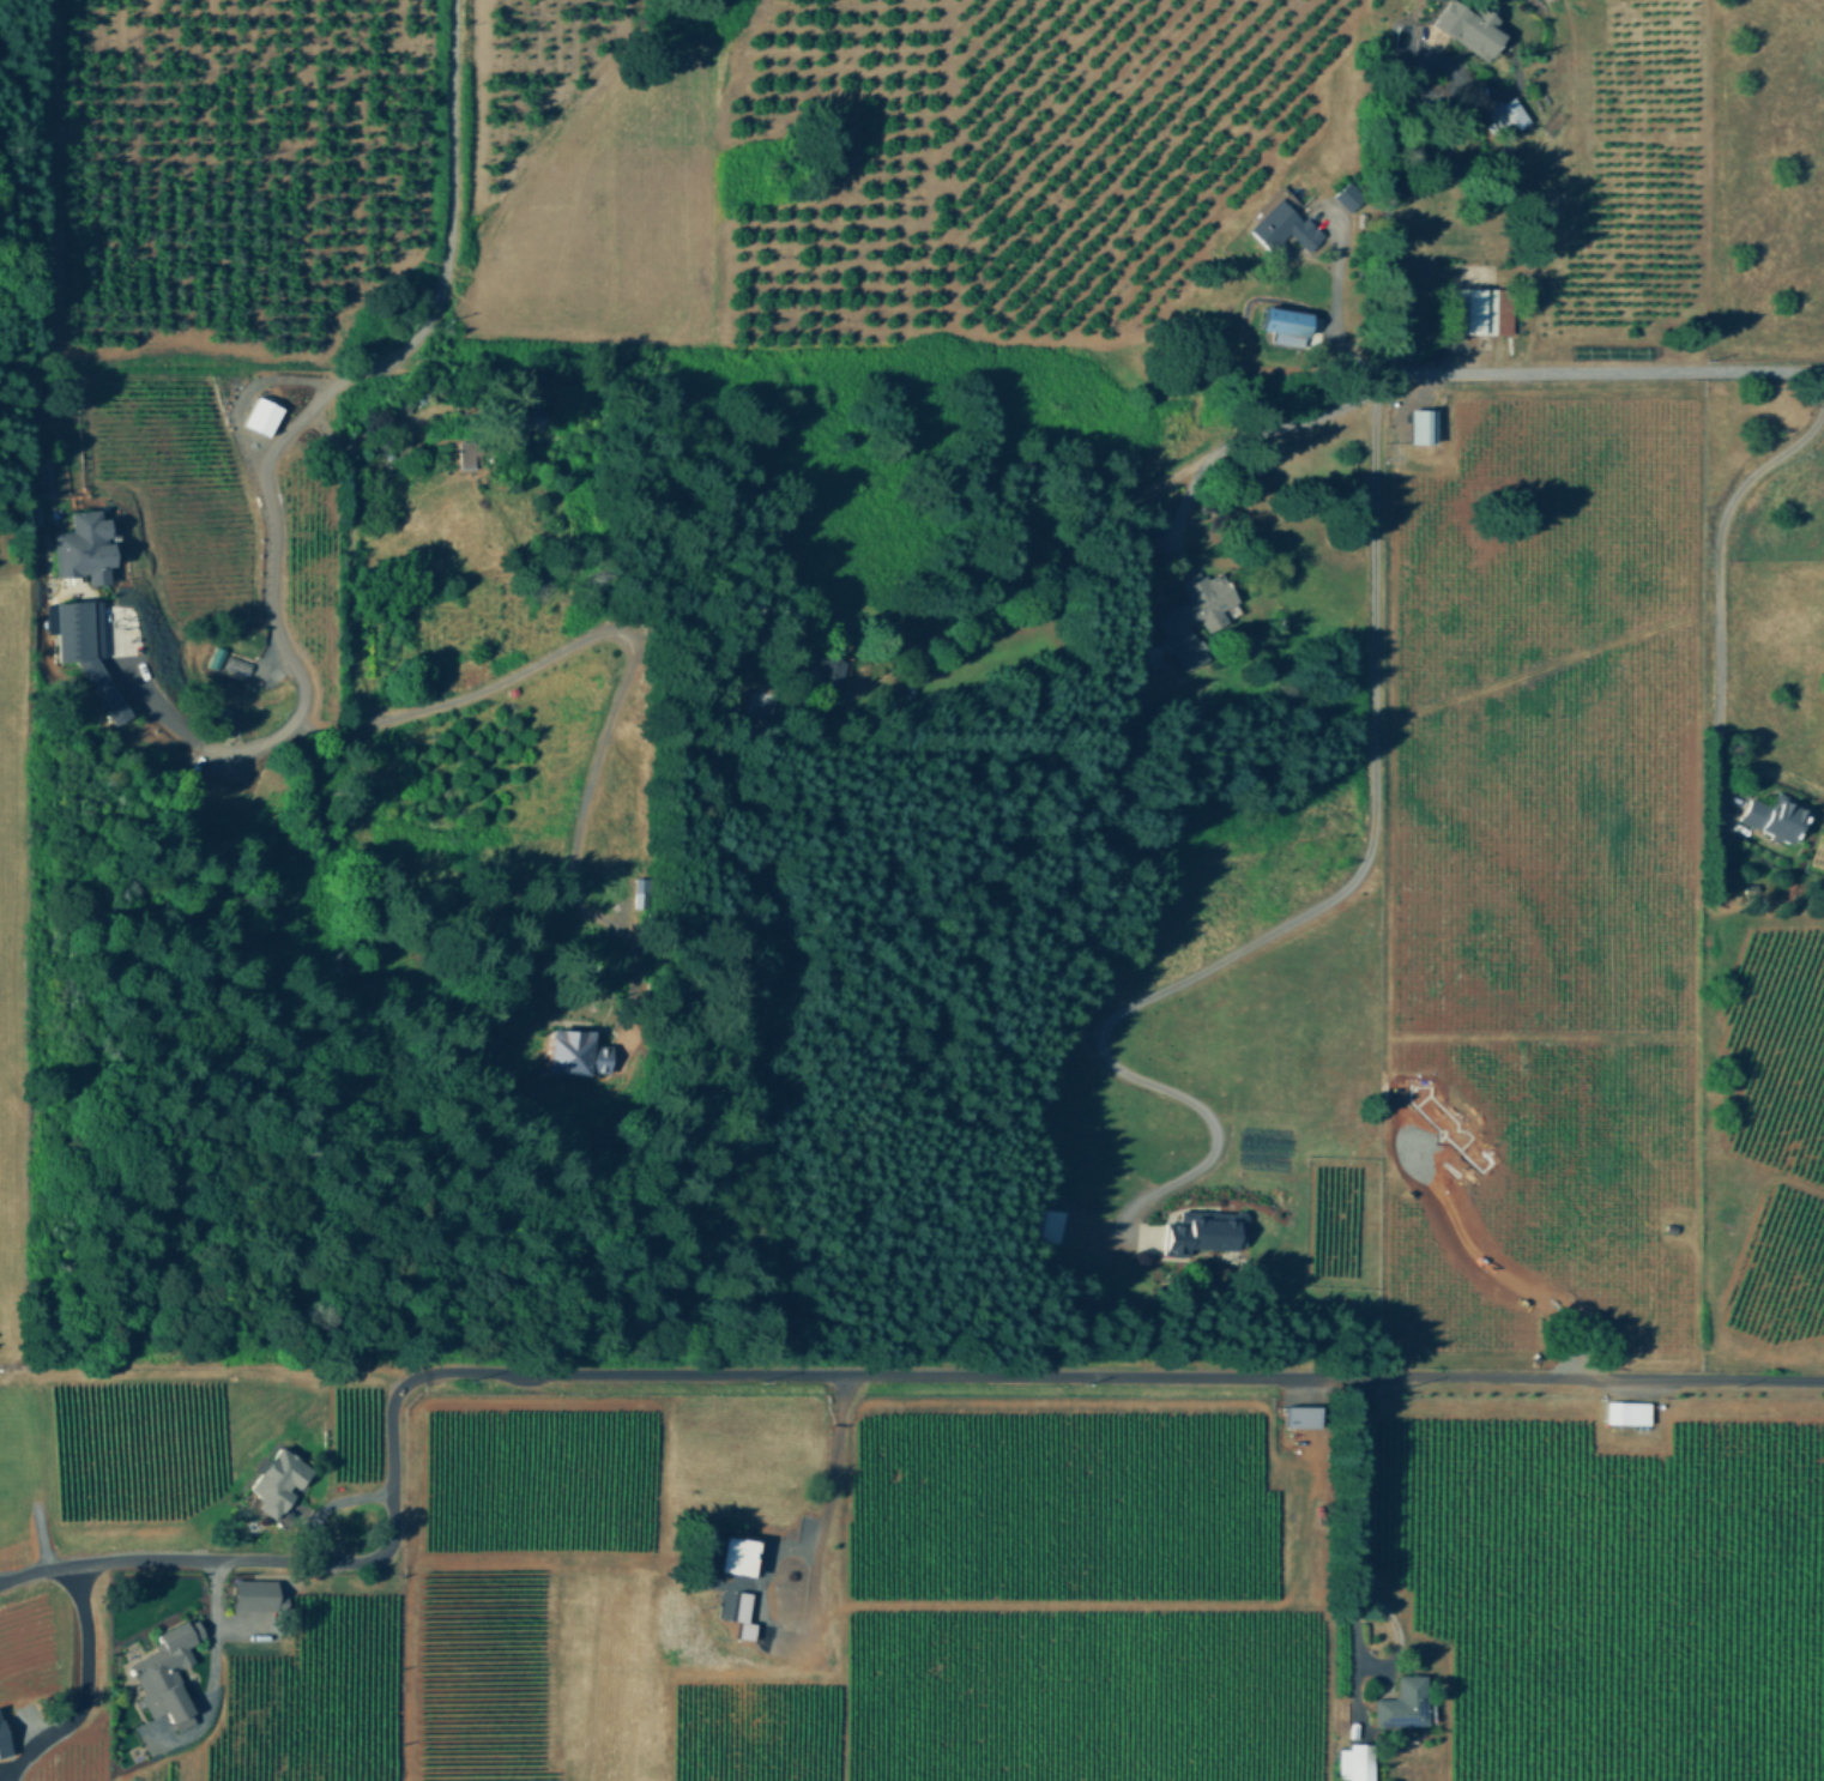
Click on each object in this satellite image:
building: (1468, 26)
building: (1506, 113)
building: (1348, 195)
road: (1384, 215)
building: (1286, 225)
road: (1336, 297)
building: (1481, 309)
building: (1286, 325)
road: (1389, 374)
road: (308, 413)
building: (264, 415)
building: (1423, 425)
building: (467, 457)
road: (1183, 508)
road: (1103, 517)
building: (84, 547)
road: (1714, 588)
building: (1197, 614)
road: (585, 626)
building: (85, 648)
building: (218, 656)
building: (237, 666)
building: (826, 668)
crop: (1516, 699)
road: (1401, 757)
building: (1775, 815)
building: (640, 890)
road: (1330, 904)
building: (579, 1051)
building: (1204, 1228)
road: (1482, 1267)
road: (1148, 1372)
building: (1627, 1411)
building: (1304, 1414)
road: (823, 1467)
building: (278, 1479)
road: (1349, 1548)
building: (737, 1553)
road: (315, 1560)
building: (256, 1593)
road: (213, 1661)
building: (167, 1671)
road: (79, 1680)
building: (1403, 1702)
building: (2, 1740)
building: (1357, 1761)

